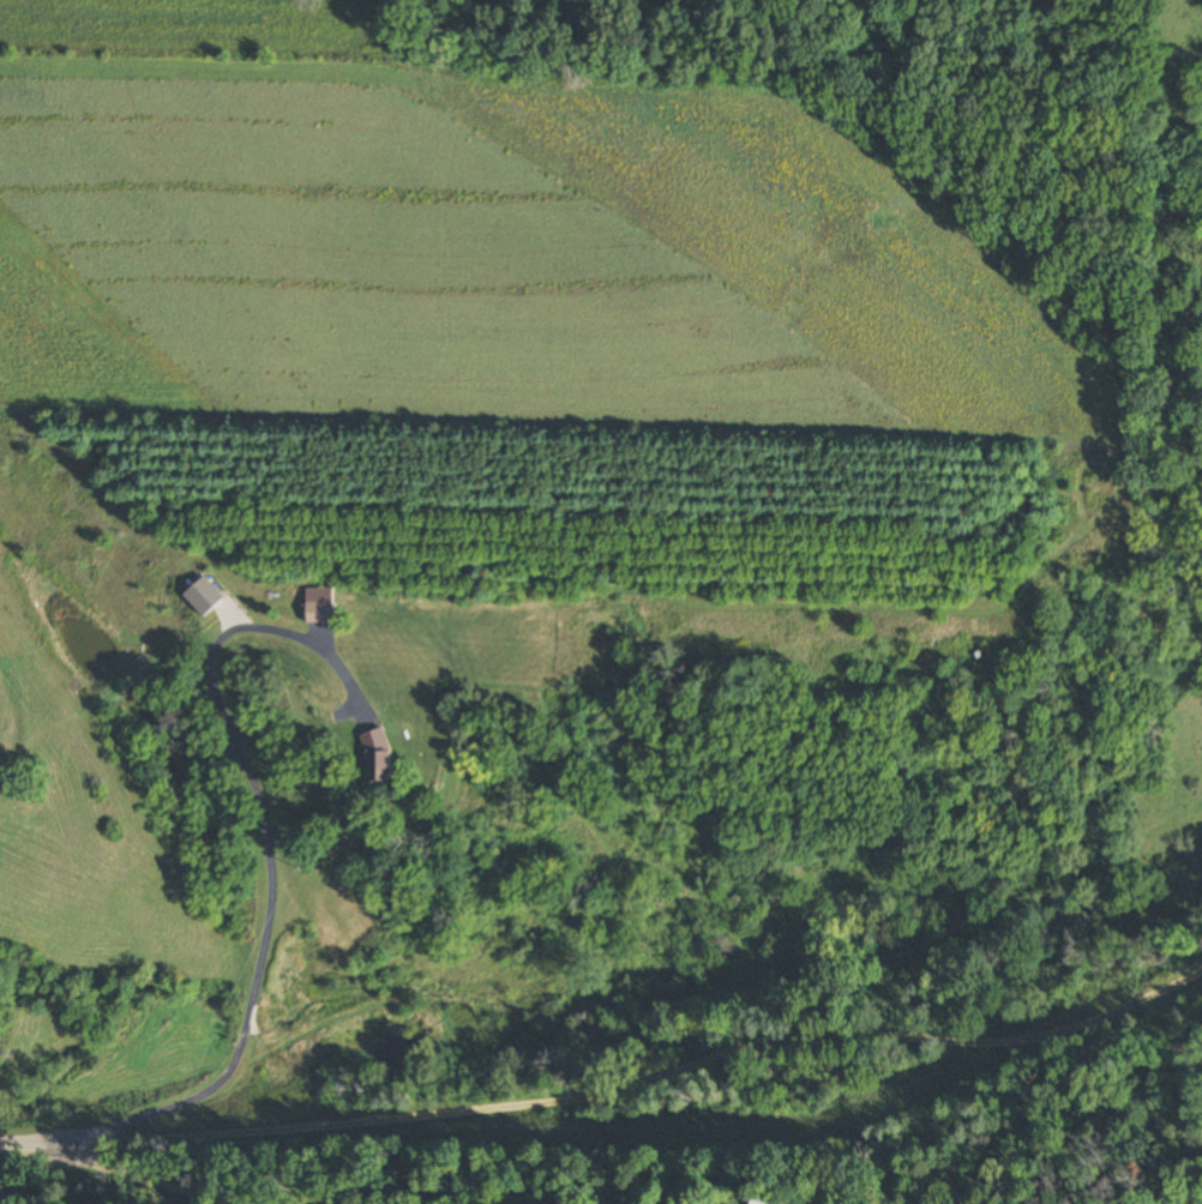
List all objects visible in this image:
building: (204, 597)
building: (319, 604)
building: (379, 758)
road: (268, 833)
road: (611, 1092)
road: (139, 1176)

